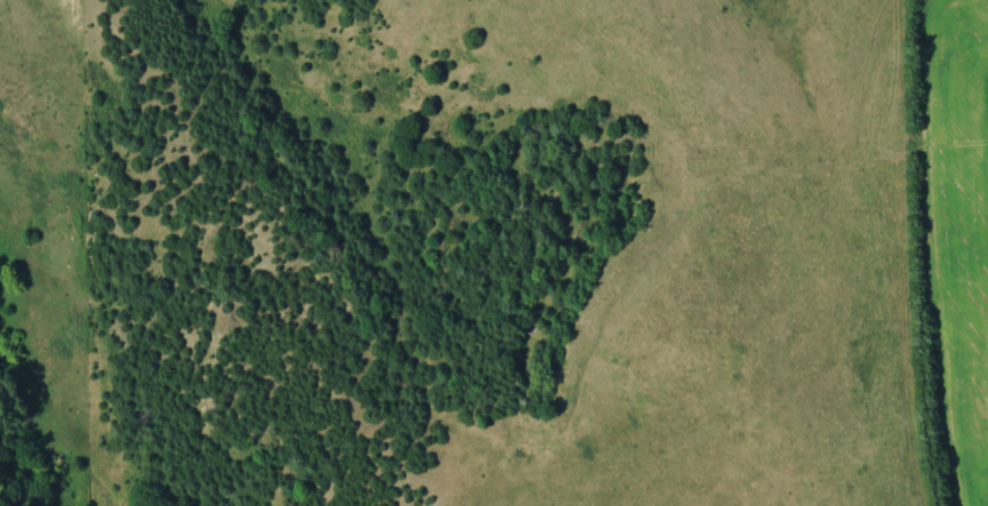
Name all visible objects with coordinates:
crop: (963, 223)

